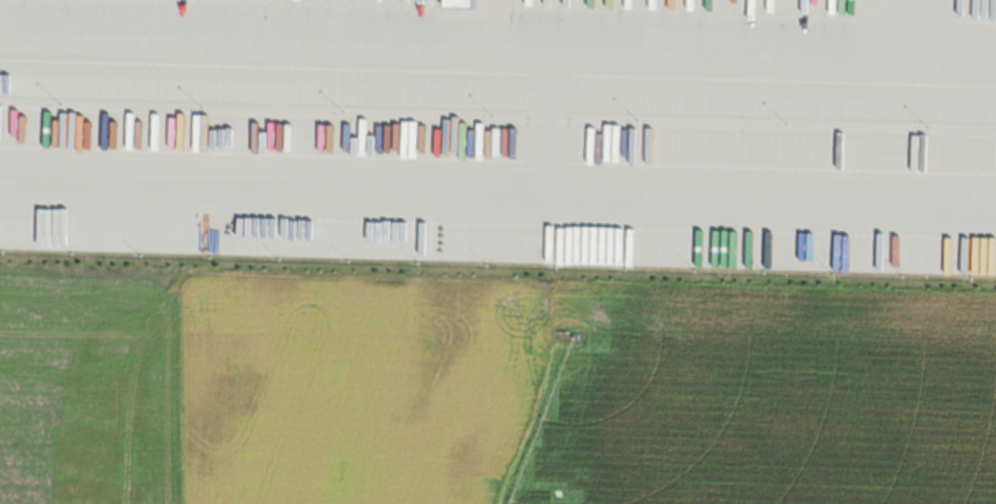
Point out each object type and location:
building: (455, 4)
road: (498, 184)
crop: (490, 390)

